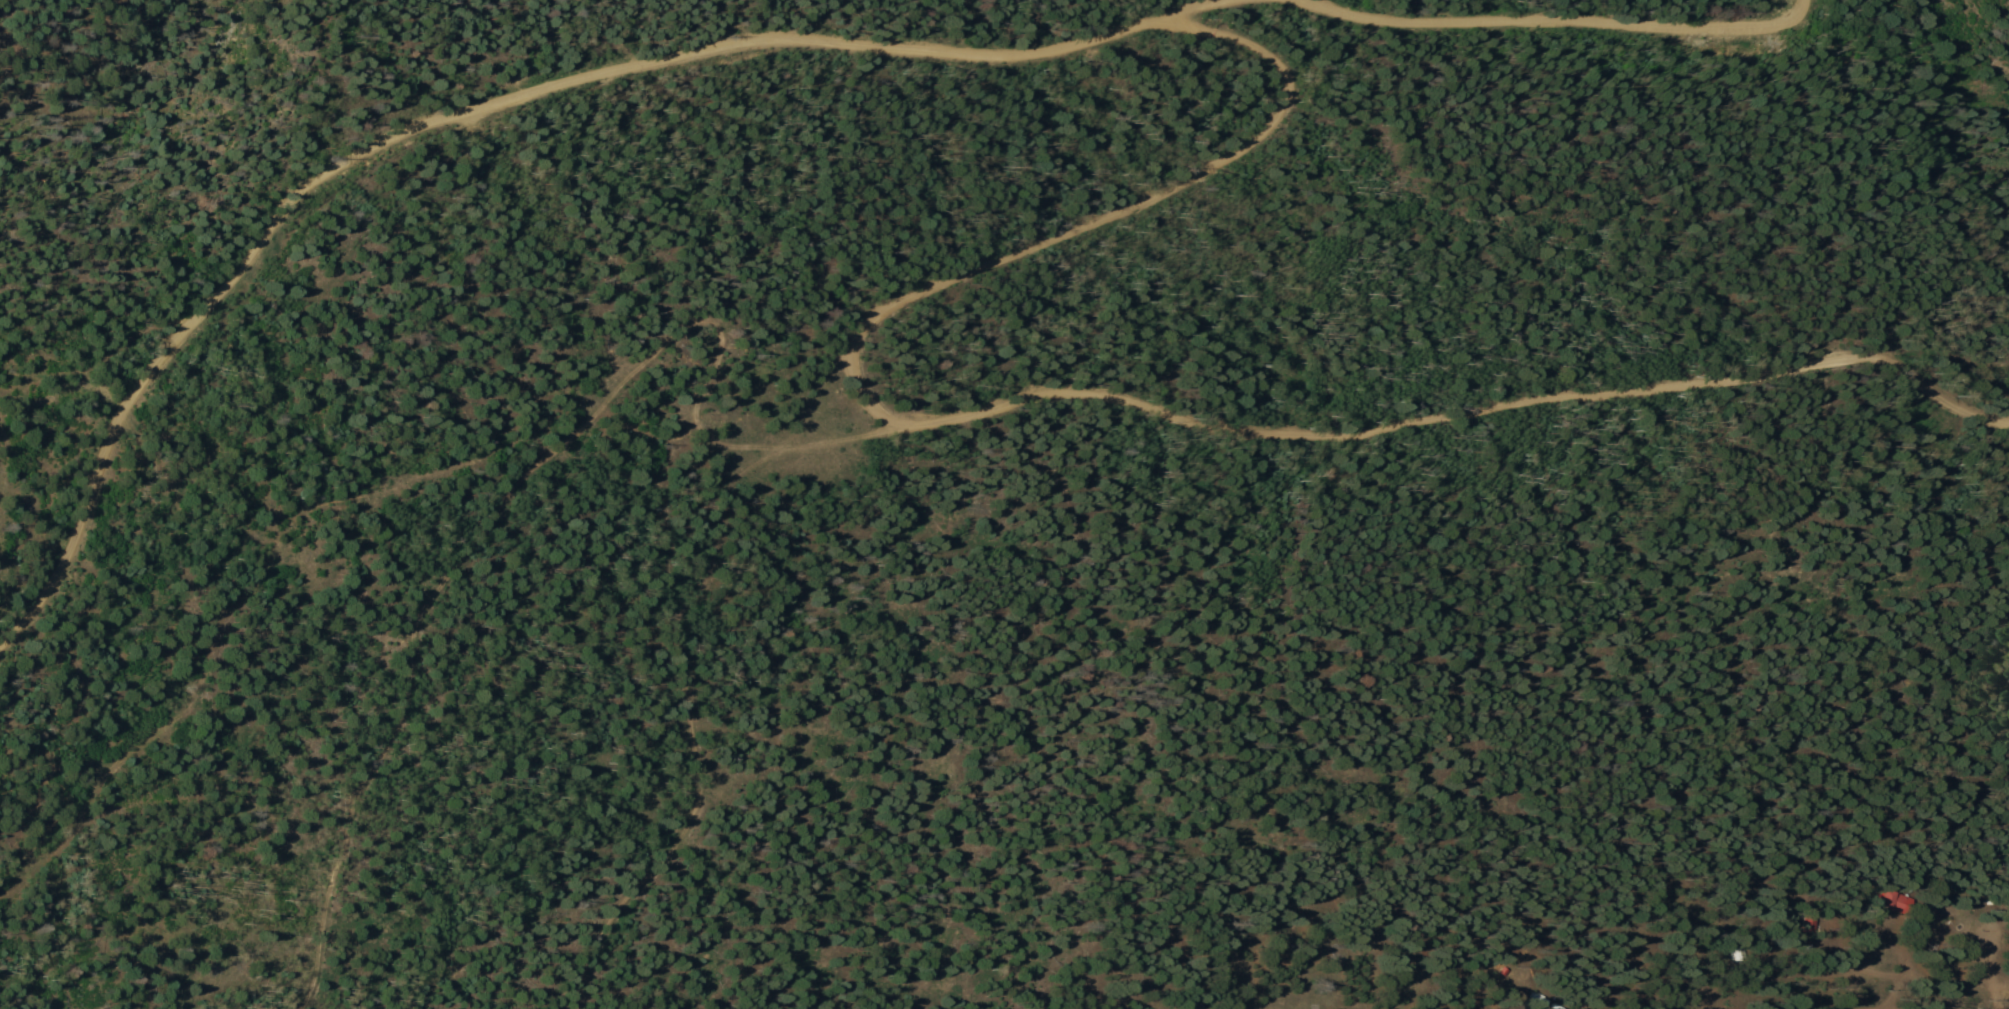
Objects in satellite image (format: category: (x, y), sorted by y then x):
road: (777, 43)
road: (1079, 390)
building: (1894, 901)

